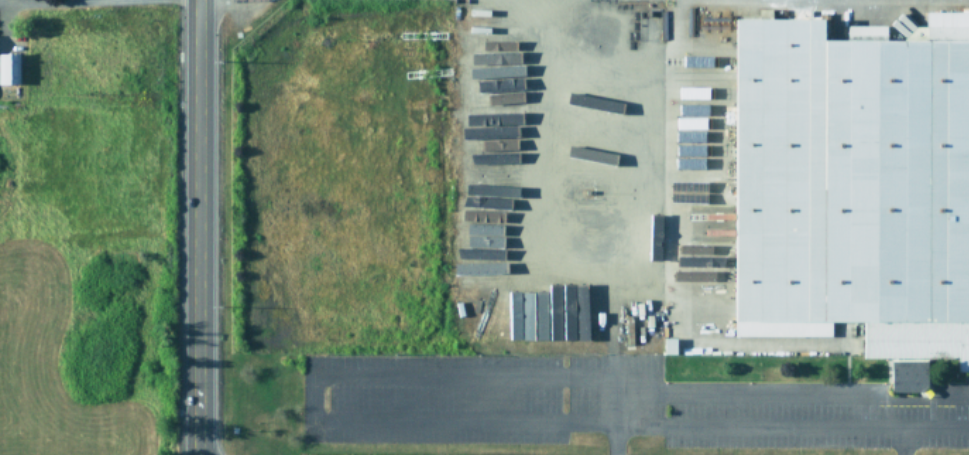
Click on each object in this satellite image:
road: (59, 1)
building: (697, 60)
building: (8, 69)
building: (496, 100)
building: (696, 123)
building: (712, 163)
road: (622, 175)
building: (852, 187)
building: (696, 192)
road: (198, 227)
building: (476, 253)
building: (570, 311)
building: (531, 312)
building: (591, 316)
building: (909, 375)
road: (793, 395)
road: (316, 399)
road: (618, 403)
road: (793, 426)
road: (906, 441)

